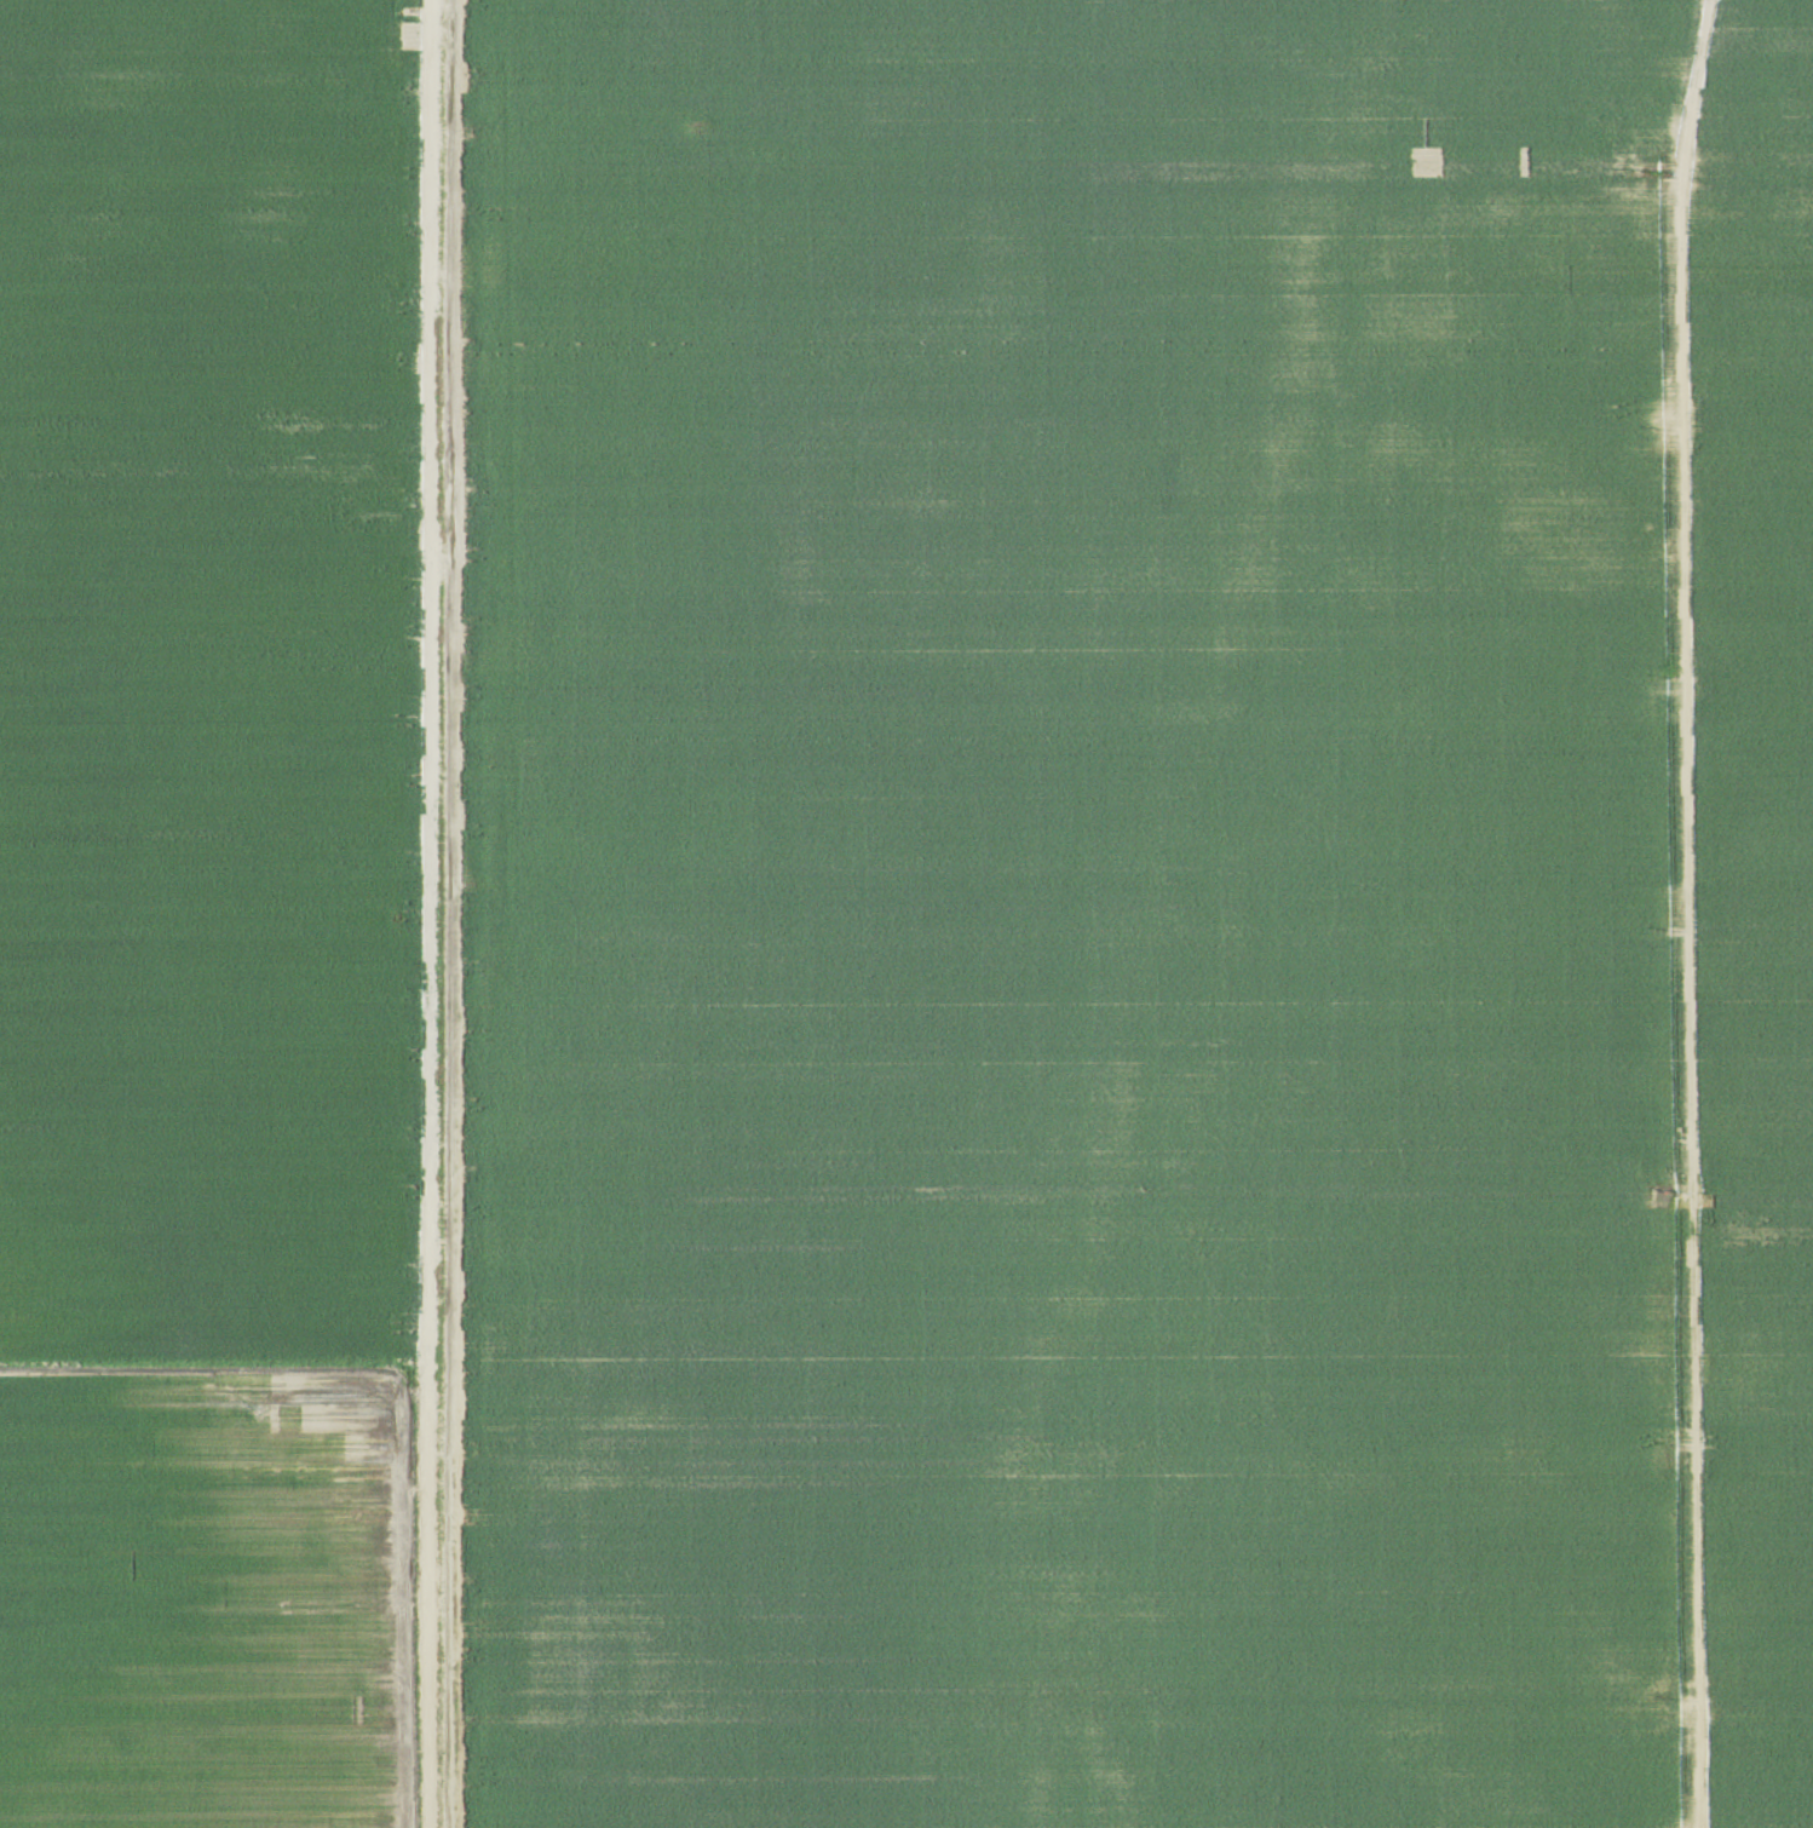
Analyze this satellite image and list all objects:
road: (1669, 586)

